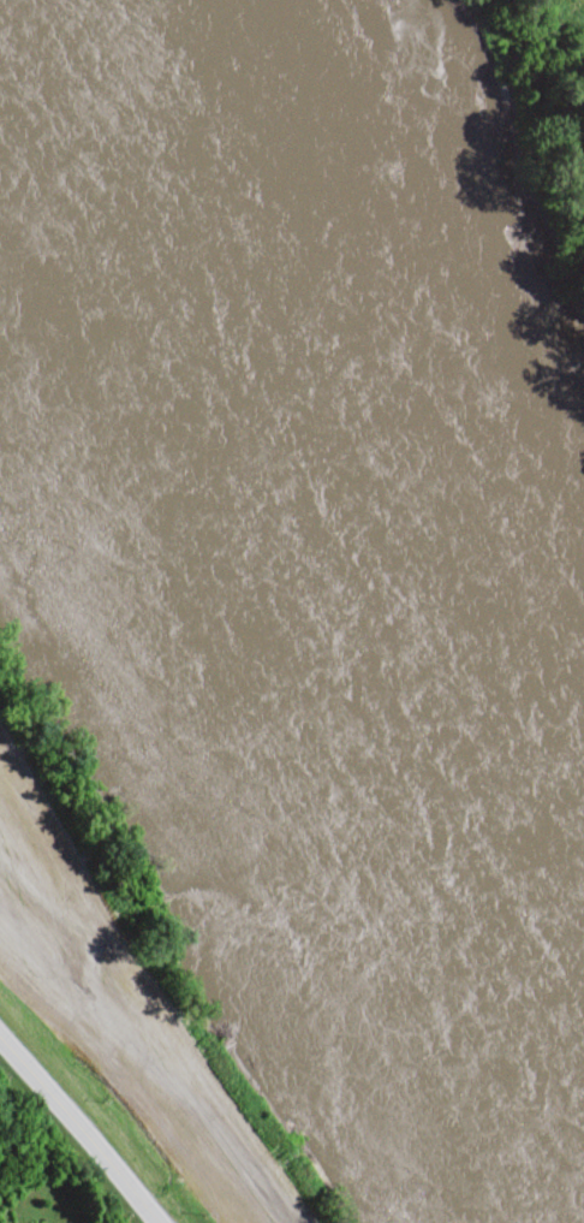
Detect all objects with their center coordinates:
river: (292, 544)
road: (78, 1134)

